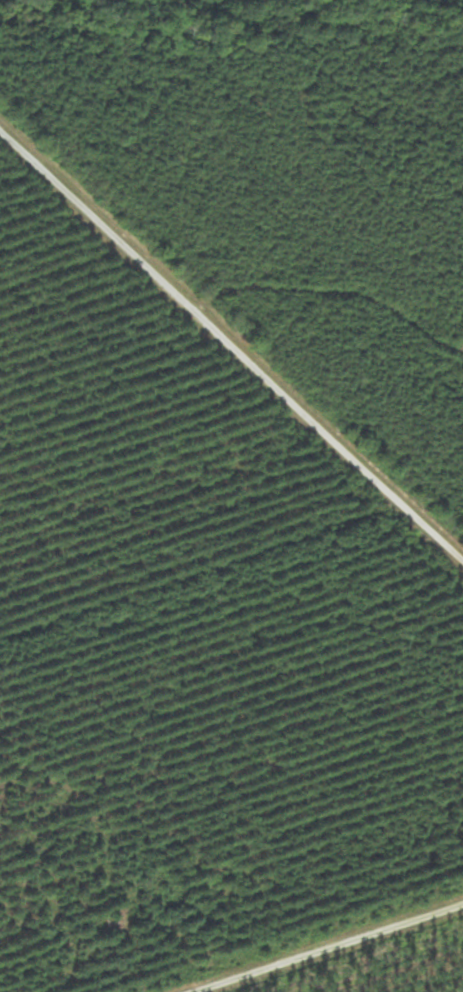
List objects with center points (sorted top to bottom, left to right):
road: (232, 354)

